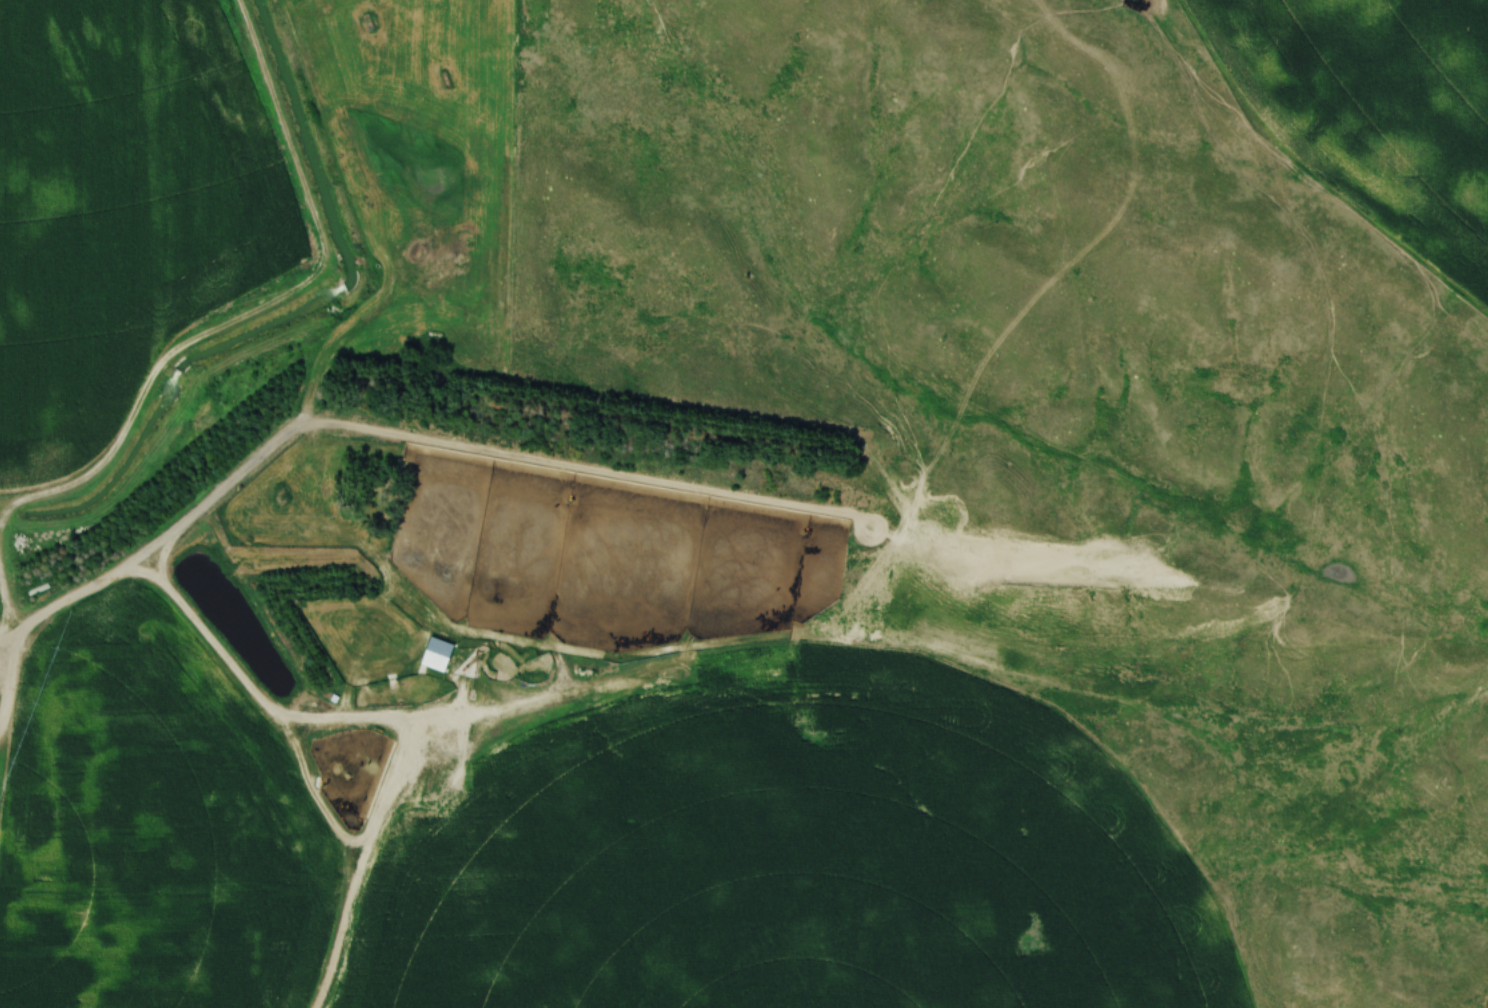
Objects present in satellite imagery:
road: (369, 429)
road: (856, 515)
building: (434, 654)

